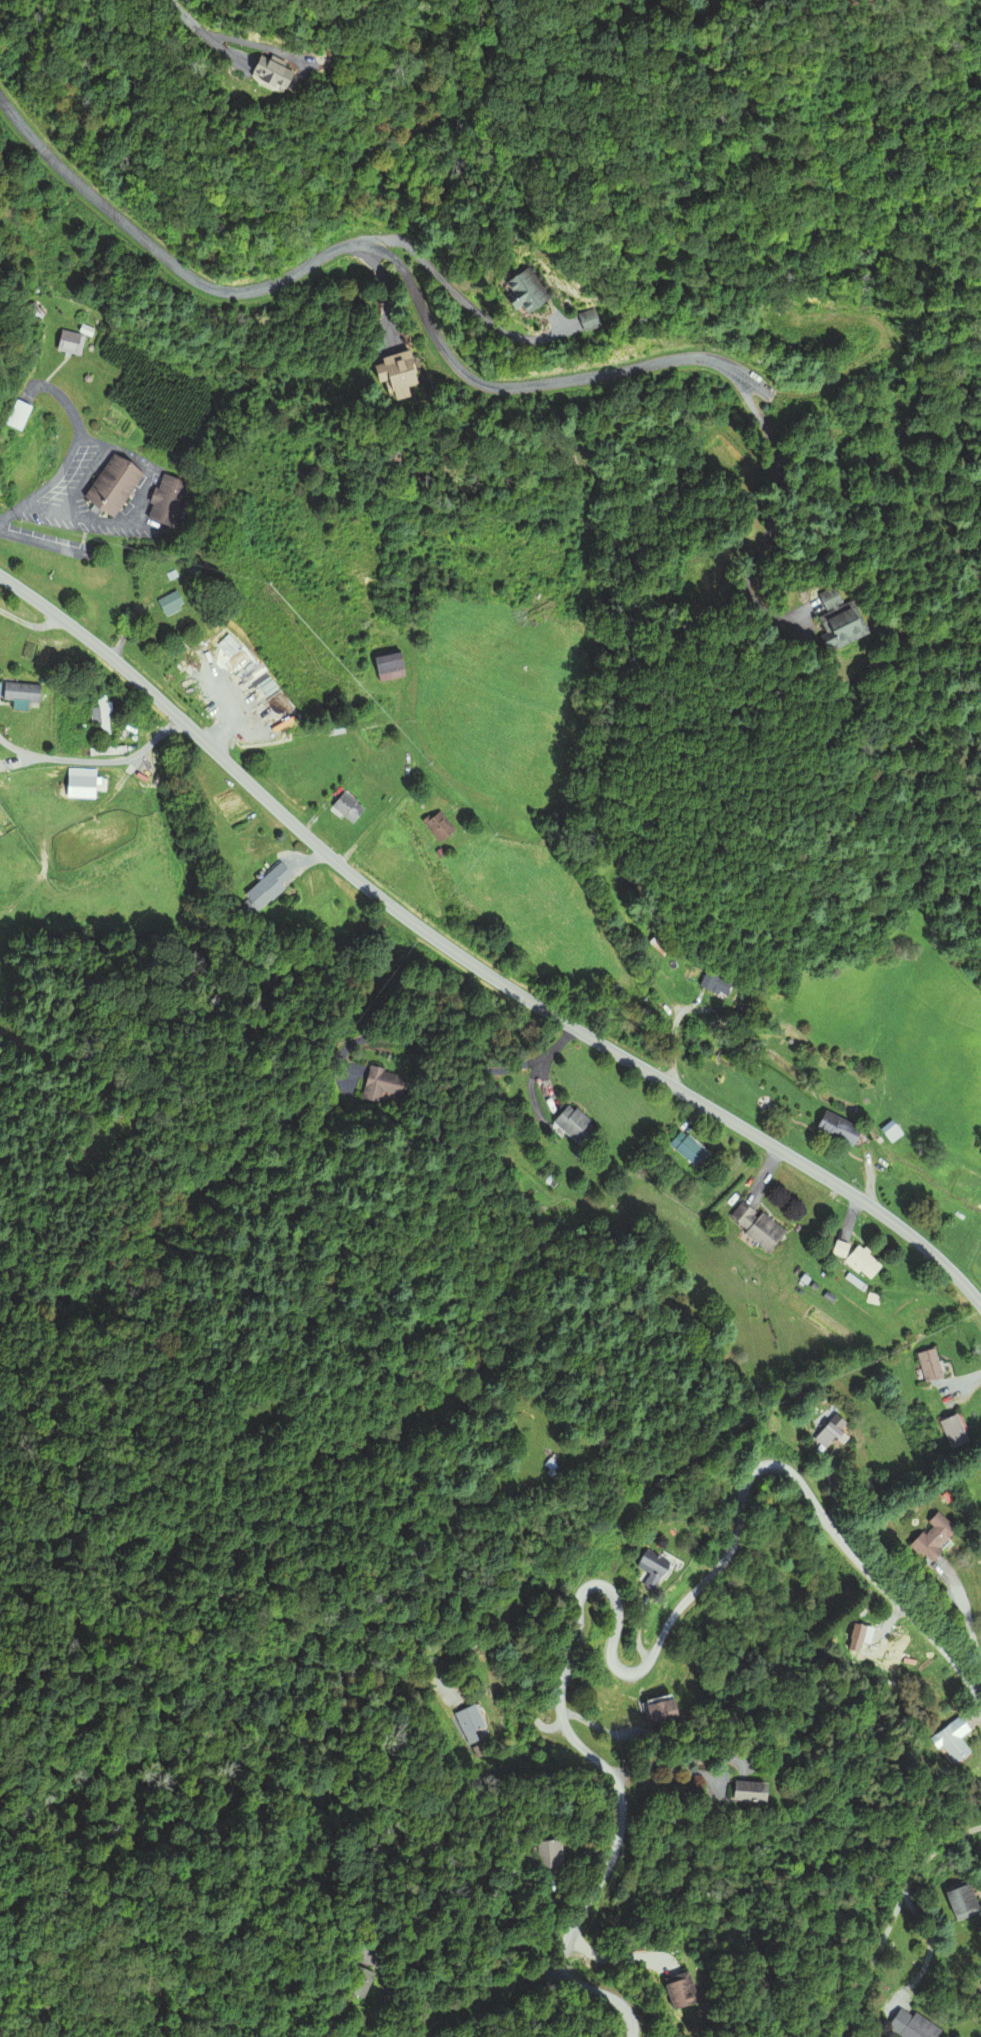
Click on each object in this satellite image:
road: (187, 17)
road: (259, 45)
road: (226, 50)
building: (259, 72)
road: (376, 249)
building: (522, 292)
building: (29, 311)
building: (581, 320)
building: (66, 343)
building: (12, 416)
road: (776, 455)
building: (106, 486)
building: (160, 501)
road: (755, 603)
building: (164, 604)
building: (832, 622)
building: (386, 667)
building: (17, 693)
building: (98, 716)
road: (120, 760)
building: (76, 788)
building: (33, 791)
building: (344, 808)
road: (375, 819)
building: (436, 826)
building: (265, 886)
building: (659, 944)
road: (473, 964)
building: (714, 984)
road: (673, 1048)
building: (381, 1085)
building: (571, 1124)
building: (835, 1128)
building: (891, 1133)
building: (687, 1149)
road: (765, 1173)
building: (969, 1183)
building: (754, 1225)
building: (839, 1249)
building: (861, 1262)
building: (927, 1364)
road: (968, 1382)
building: (951, 1431)
building: (824, 1437)
road: (834, 1490)
building: (931, 1538)
building: (651, 1569)
road: (967, 1622)
road: (636, 1628)
building: (855, 1637)
road: (507, 1647)
road: (612, 1654)
road: (881, 1663)
building: (659, 1711)
road: (975, 1714)
building: (469, 1723)
road: (594, 1724)
building: (949, 1739)
road: (714, 1757)
road: (665, 1764)
building: (737, 1791)
building: (960, 1902)
road: (891, 1915)
road: (542, 1936)
road: (928, 1947)
road: (614, 1957)
building: (354, 1983)
building: (674, 1991)
road: (383, 1997)

